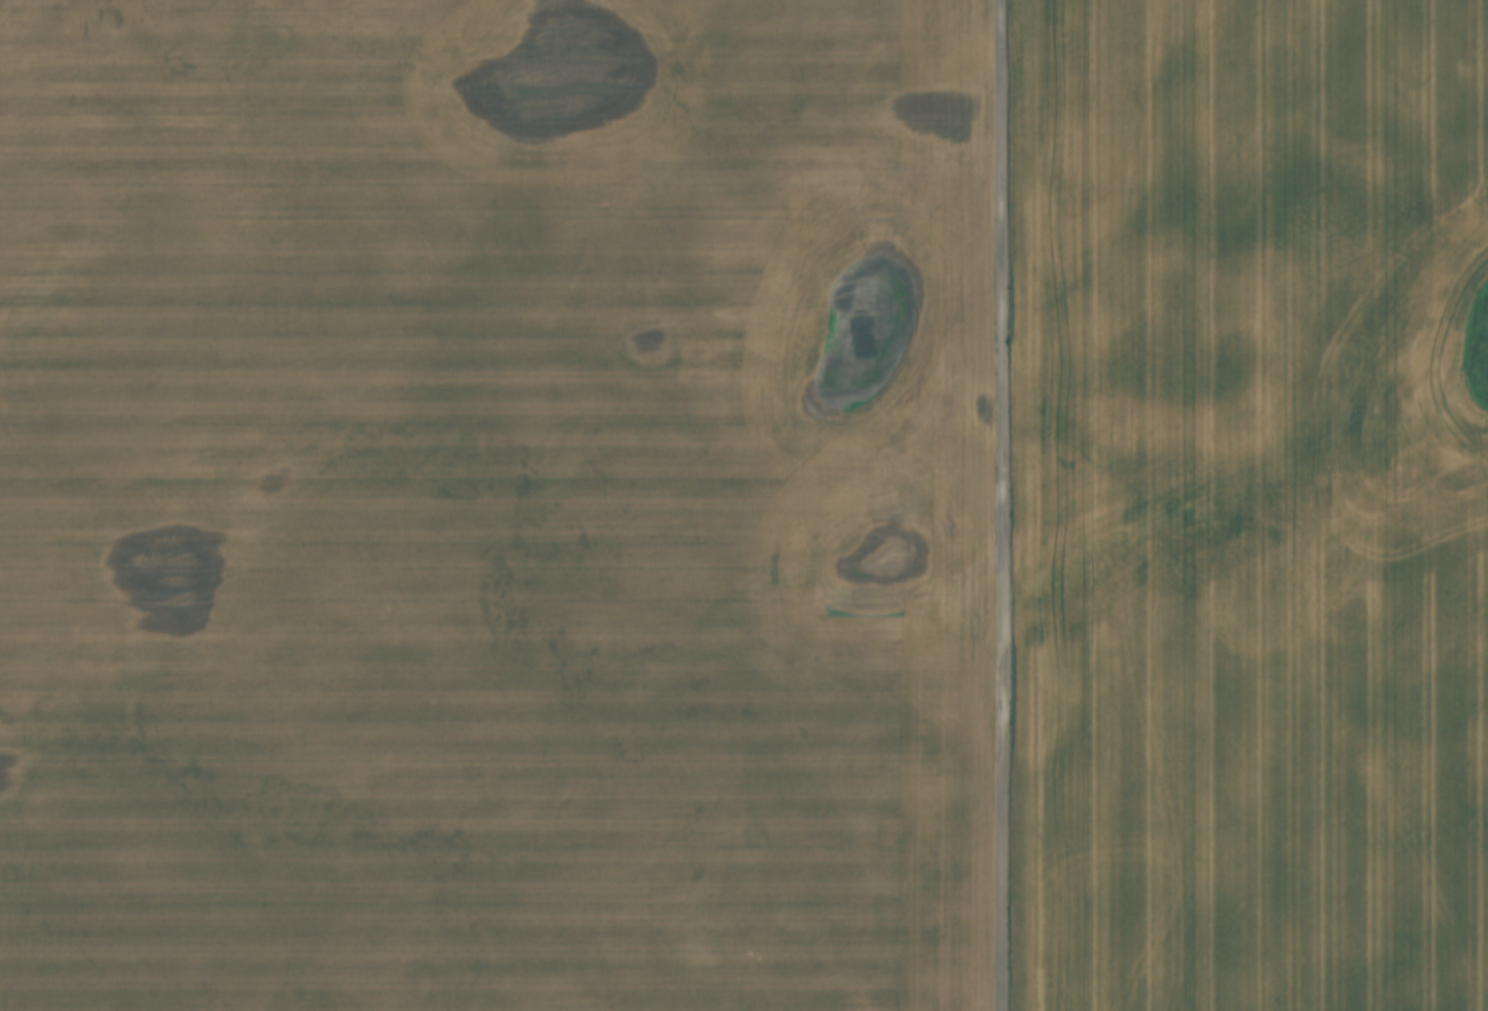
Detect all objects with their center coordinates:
road: (999, 505)

